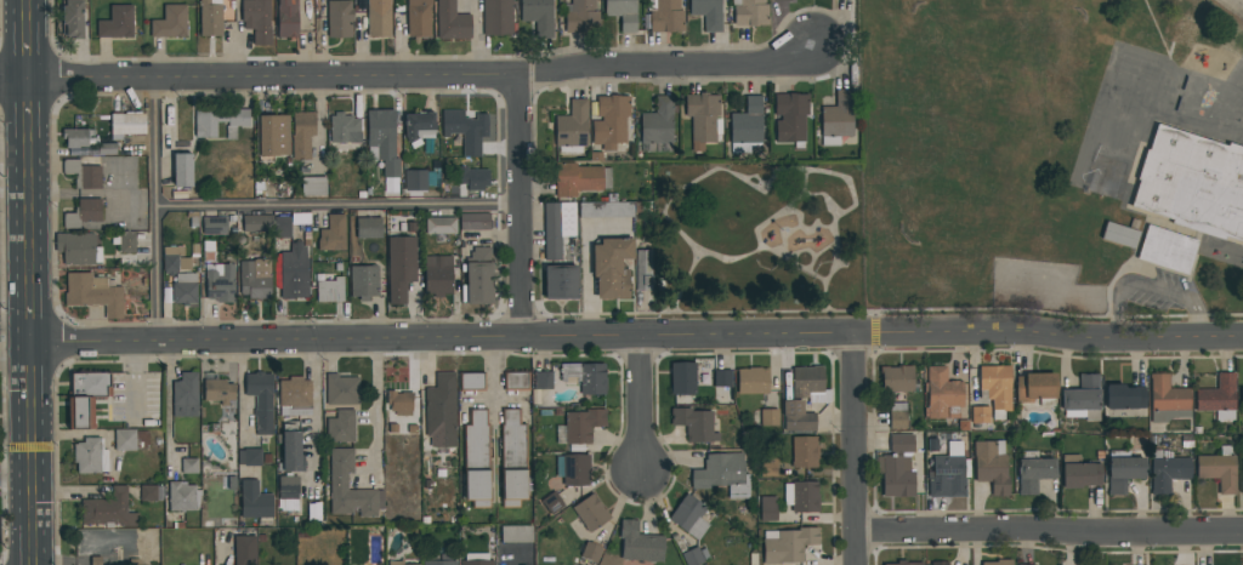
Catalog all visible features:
building: (782, 0)
road: (24, 8)
building: (748, 12)
building: (623, 13)
building: (708, 13)
building: (538, 16)
building: (580, 16)
building: (665, 16)
building: (496, 17)
building: (210, 18)
building: (286, 18)
building: (379, 18)
building: (419, 18)
building: (72, 19)
building: (256, 19)
building: (339, 19)
building: (170, 22)
building: (452, 22)
building: (117, 23)
road: (25, 50)
road: (410, 76)
building: (790, 118)
building: (702, 119)
building: (838, 119)
building: (218, 121)
building: (609, 121)
building: (747, 122)
building: (126, 125)
building: (572, 125)
building: (419, 126)
building: (657, 127)
building: (345, 129)
building: (466, 130)
building: (302, 135)
building: (273, 136)
building: (384, 138)
building: (84, 143)
building: (182, 170)
road: (709, 172)
building: (83, 175)
building: (473, 178)
building: (580, 179)
building: (415, 181)
road: (805, 182)
road: (25, 184)
building: (1191, 184)
building: (313, 186)
road: (825, 196)
road: (518, 206)
road: (339, 209)
road: (158, 212)
building: (85, 213)
building: (475, 221)
building: (215, 223)
building: (257, 223)
road: (817, 224)
building: (441, 226)
building: (282, 227)
building: (368, 227)
building: (557, 227)
road: (787, 232)
building: (333, 234)
building: (1119, 235)
park: (751, 239)
building: (126, 242)
building: (75, 249)
building: (1167, 250)
road: (801, 251)
building: (175, 259)
road: (798, 263)
road: (834, 264)
building: (401, 267)
building: (611, 269)
building: (643, 270)
building: (294, 273)
building: (438, 275)
building: (478, 275)
building: (255, 279)
building: (364, 281)
building: (560, 281)
building: (218, 282)
road: (1151, 287)
building: (185, 289)
building: (329, 290)
building: (92, 293)
road: (27, 316)
road: (13, 323)
road: (635, 336)
road: (13, 355)
building: (585, 377)
road: (135, 378)
building: (682, 378)
building: (722, 378)
road: (494, 379)
building: (897, 379)
building: (516, 381)
building: (543, 381)
building: (753, 381)
building: (471, 382)
building: (90, 384)
building: (997, 386)
building: (1035, 387)
building: (341, 389)
building: (218, 390)
road: (240, 390)
building: (941, 393)
building: (186, 395)
building: (1216, 395)
building: (294, 396)
building: (1124, 396)
building: (1242, 398)
building: (804, 399)
building: (1168, 399)
road: (168, 400)
building: (261, 400)
building: (1082, 400)
building: (399, 405)
road: (640, 405)
road: (375, 410)
building: (80, 412)
building: (441, 412)
building: (980, 415)
building: (897, 416)
road: (316, 418)
building: (696, 424)
building: (341, 427)
building: (579, 427)
building: (125, 440)
building: (512, 440)
building: (901, 444)
road: (856, 450)
building: (291, 451)
building: (804, 451)
road: (29, 456)
building: (90, 456)
building: (249, 457)
building: (477, 461)
building: (1242, 461)
building: (189, 466)
building: (992, 466)
building: (573, 470)
building: (1167, 470)
building: (1218, 472)
building: (948, 473)
building: (1079, 473)
building: (1123, 473)
building: (722, 474)
building: (1033, 474)
road: (15, 475)
building: (895, 475)
building: (339, 483)
building: (513, 485)
building: (152, 493)
building: (182, 496)
building: (801, 496)
building: (255, 501)
building: (552, 503)
building: (767, 508)
building: (108, 510)
building: (590, 513)
building: (688, 517)
building: (516, 533)
road: (1049, 536)
building: (638, 543)
building: (788, 544)
building: (245, 550)
building: (692, 557)
building: (475, 560)
building: (439, 563)
building: (903, 563)
building: (940, 563)
building: (997, 563)
building: (403, 564)

